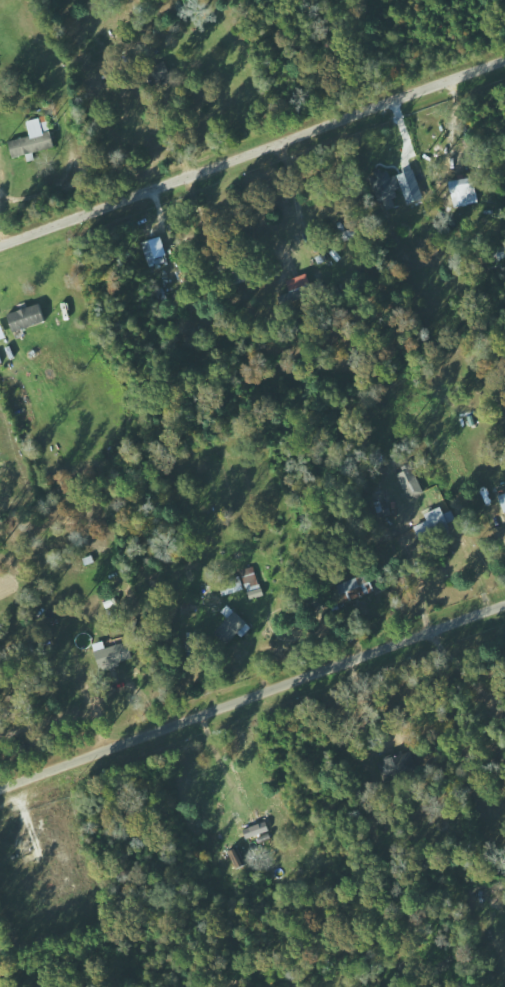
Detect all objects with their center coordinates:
building: (34, 139)
road: (252, 141)
building: (409, 179)
building: (387, 187)
building: (465, 191)
building: (156, 249)
building: (303, 282)
building: (28, 318)
building: (3, 334)
building: (411, 482)
building: (503, 499)
building: (437, 521)
building: (253, 582)
building: (367, 585)
building: (235, 624)
building: (116, 655)
road: (252, 696)
building: (238, 858)

